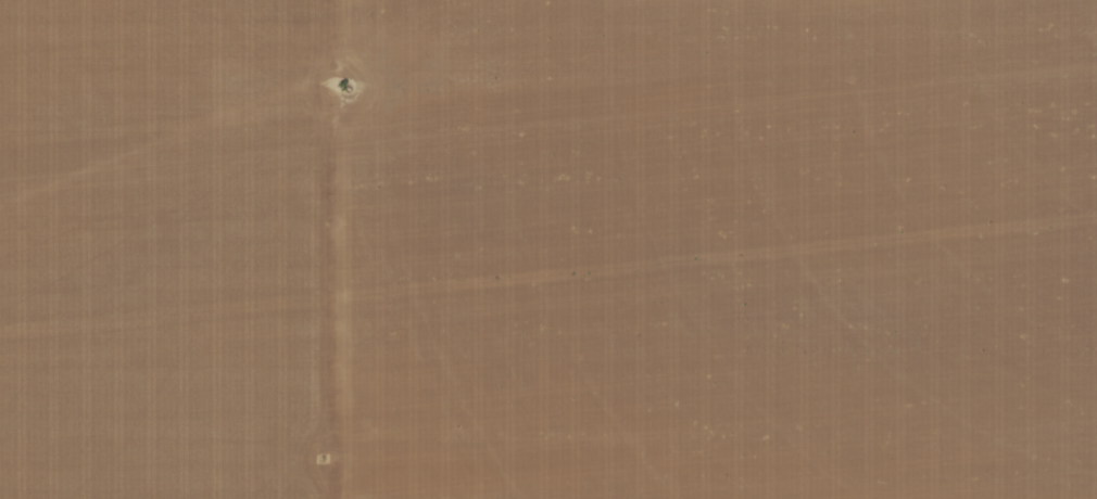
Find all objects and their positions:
road: (329, 248)

